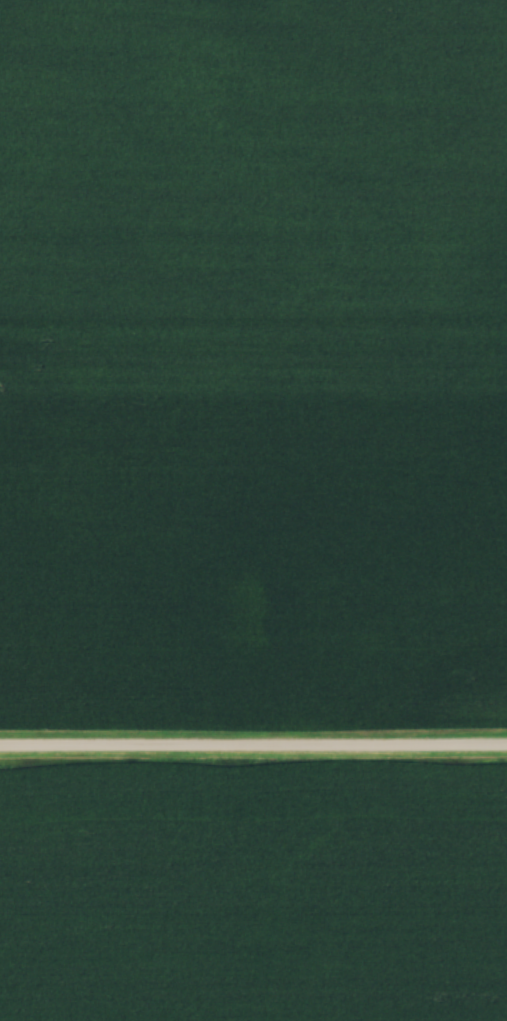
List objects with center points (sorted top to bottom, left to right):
road: (253, 741)

